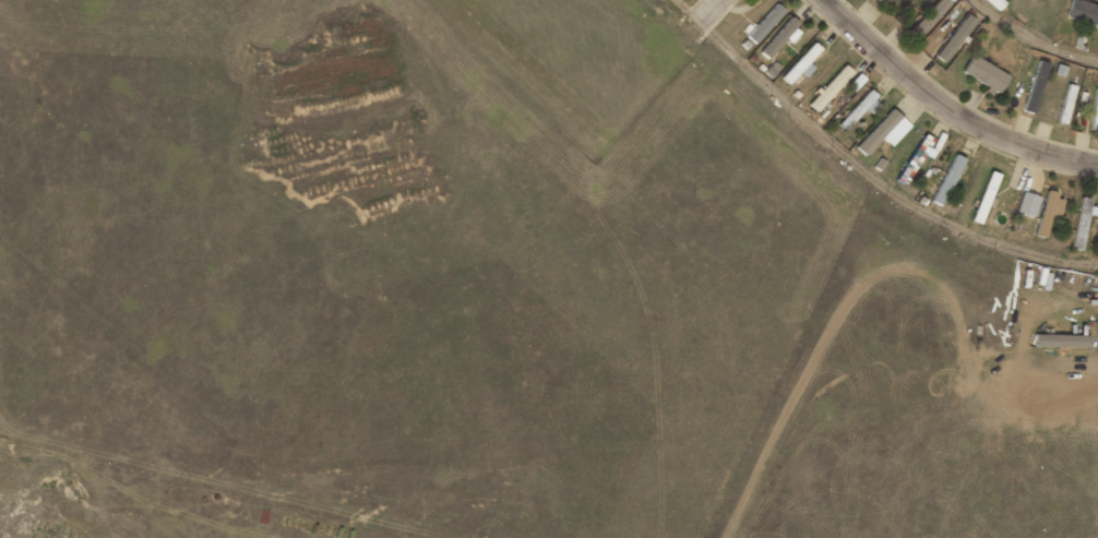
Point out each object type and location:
building: (876, 0)
building: (995, 3)
building: (1083, 12)
road: (679, 13)
road: (705, 13)
building: (926, 20)
building: (764, 23)
building: (780, 36)
building: (956, 39)
road: (1030, 39)
building: (800, 64)
building: (983, 73)
building: (855, 82)
building: (830, 87)
building: (1065, 104)
building: (859, 109)
road: (944, 109)
building: (1095, 111)
building: (883, 131)
building: (946, 180)
road: (876, 181)
building: (983, 196)
building: (1027, 204)
building: (1048, 213)
building: (1079, 224)
building: (1059, 340)

